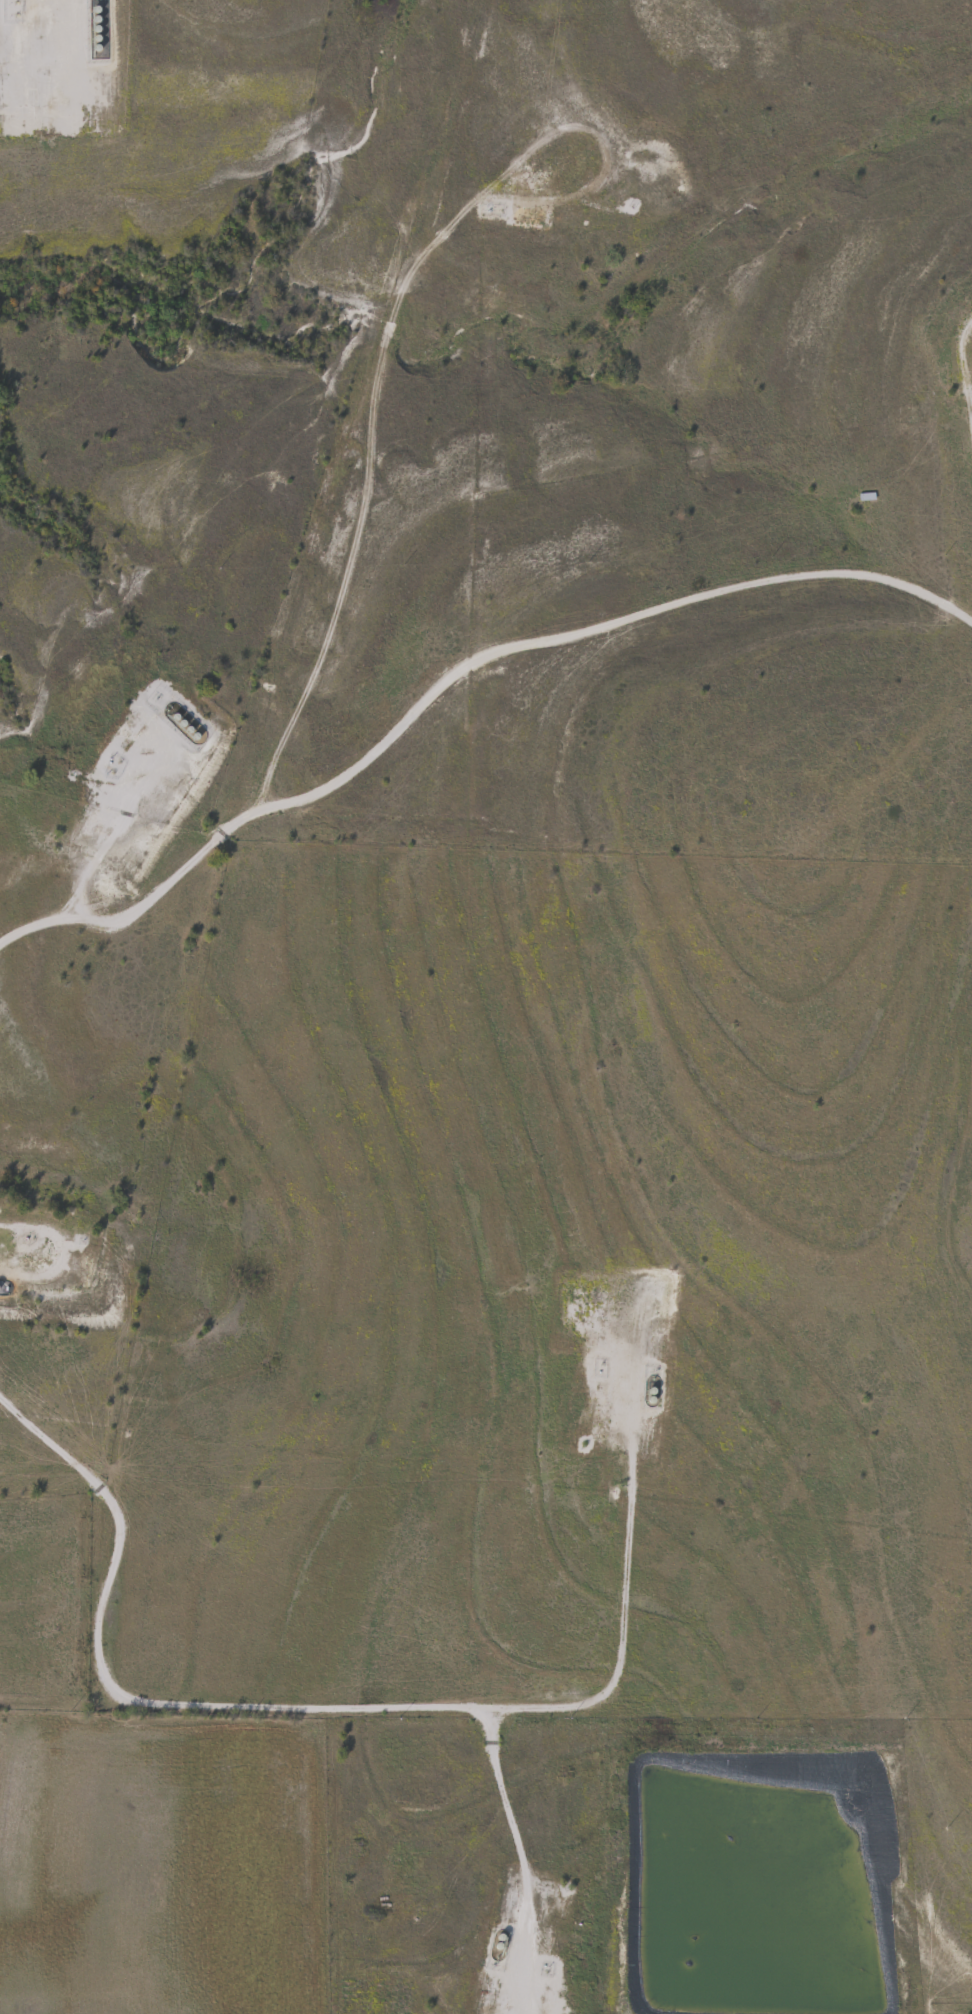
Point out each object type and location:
road: (965, 398)
road: (452, 673)
road: (331, 1707)
road: (521, 2010)

